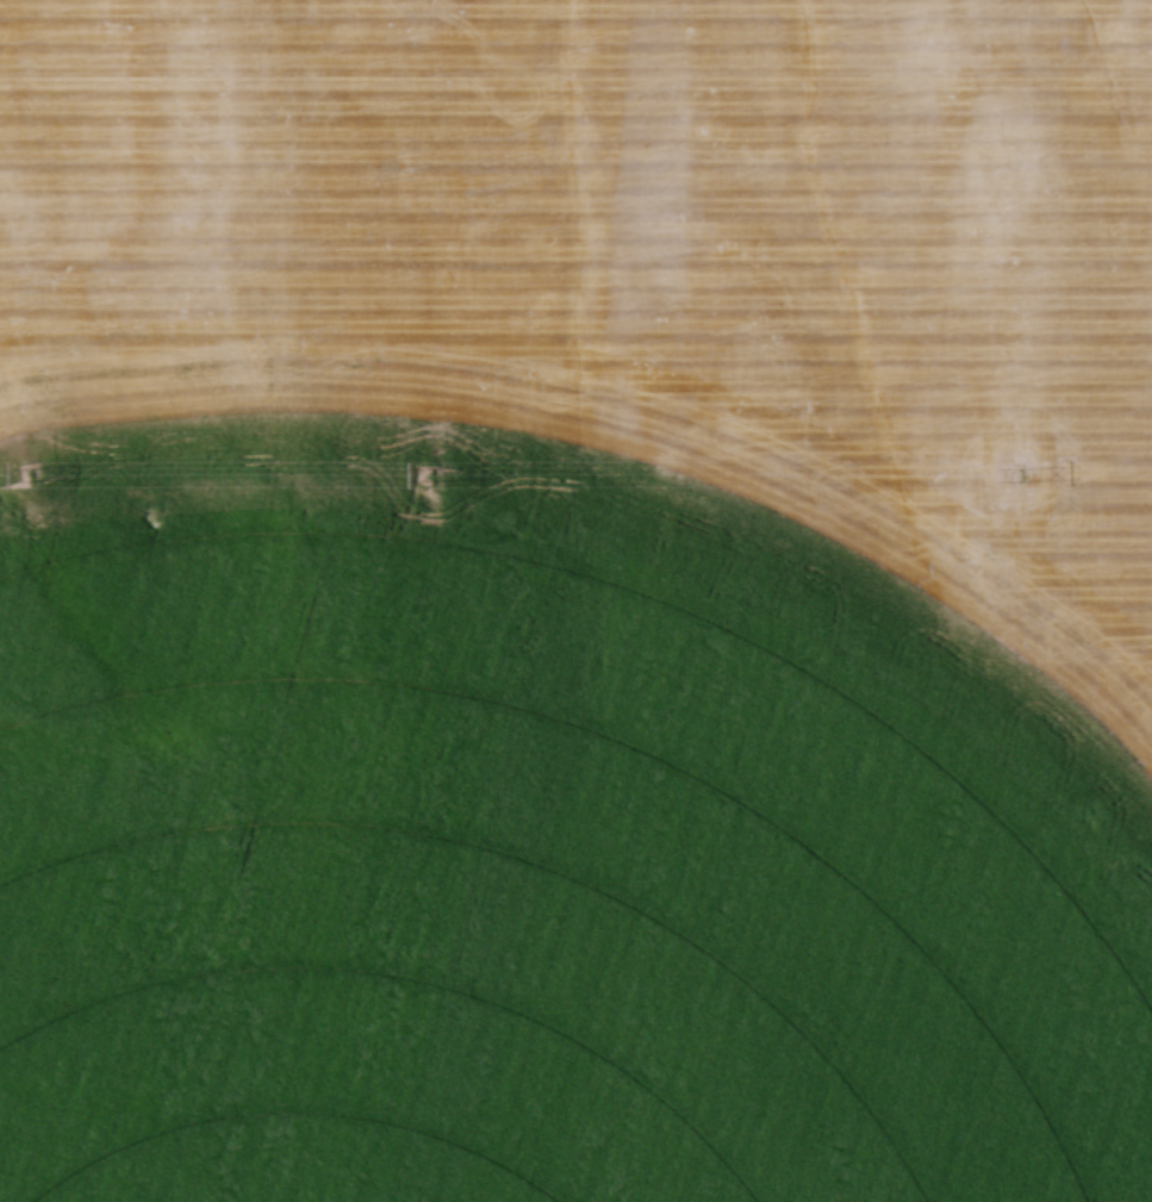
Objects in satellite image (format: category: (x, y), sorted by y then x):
power tower: (35, 478)
power tower: (426, 478)
power tower: (1025, 480)

